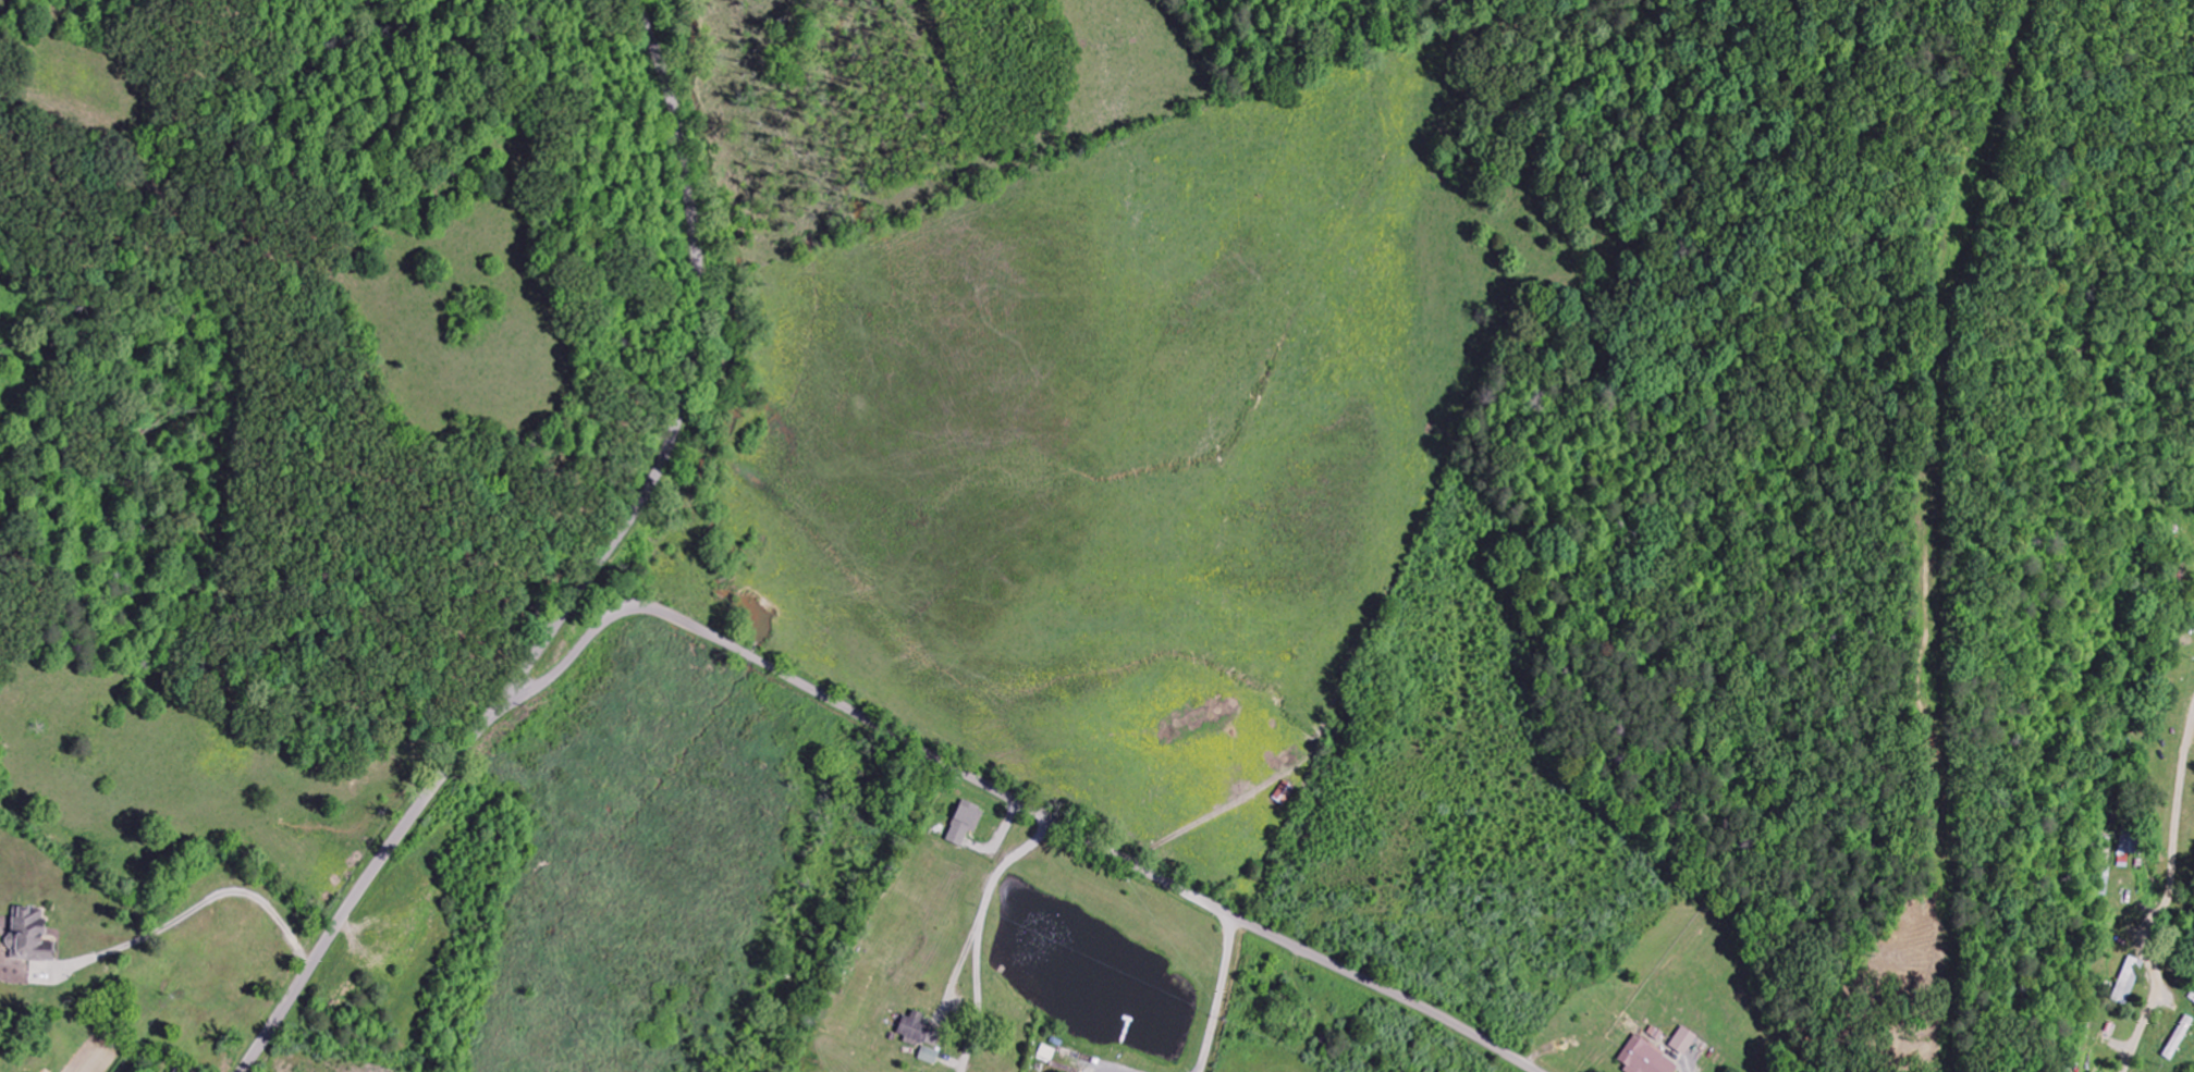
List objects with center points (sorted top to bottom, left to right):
road: (691, 367)
road: (812, 689)
building: (1285, 793)
building: (965, 822)
building: (2130, 842)
building: (29, 937)
building: (2129, 981)
building: (915, 1028)
building: (1684, 1042)
building: (930, 1056)
building: (1646, 1059)
building: (176, 1071)

